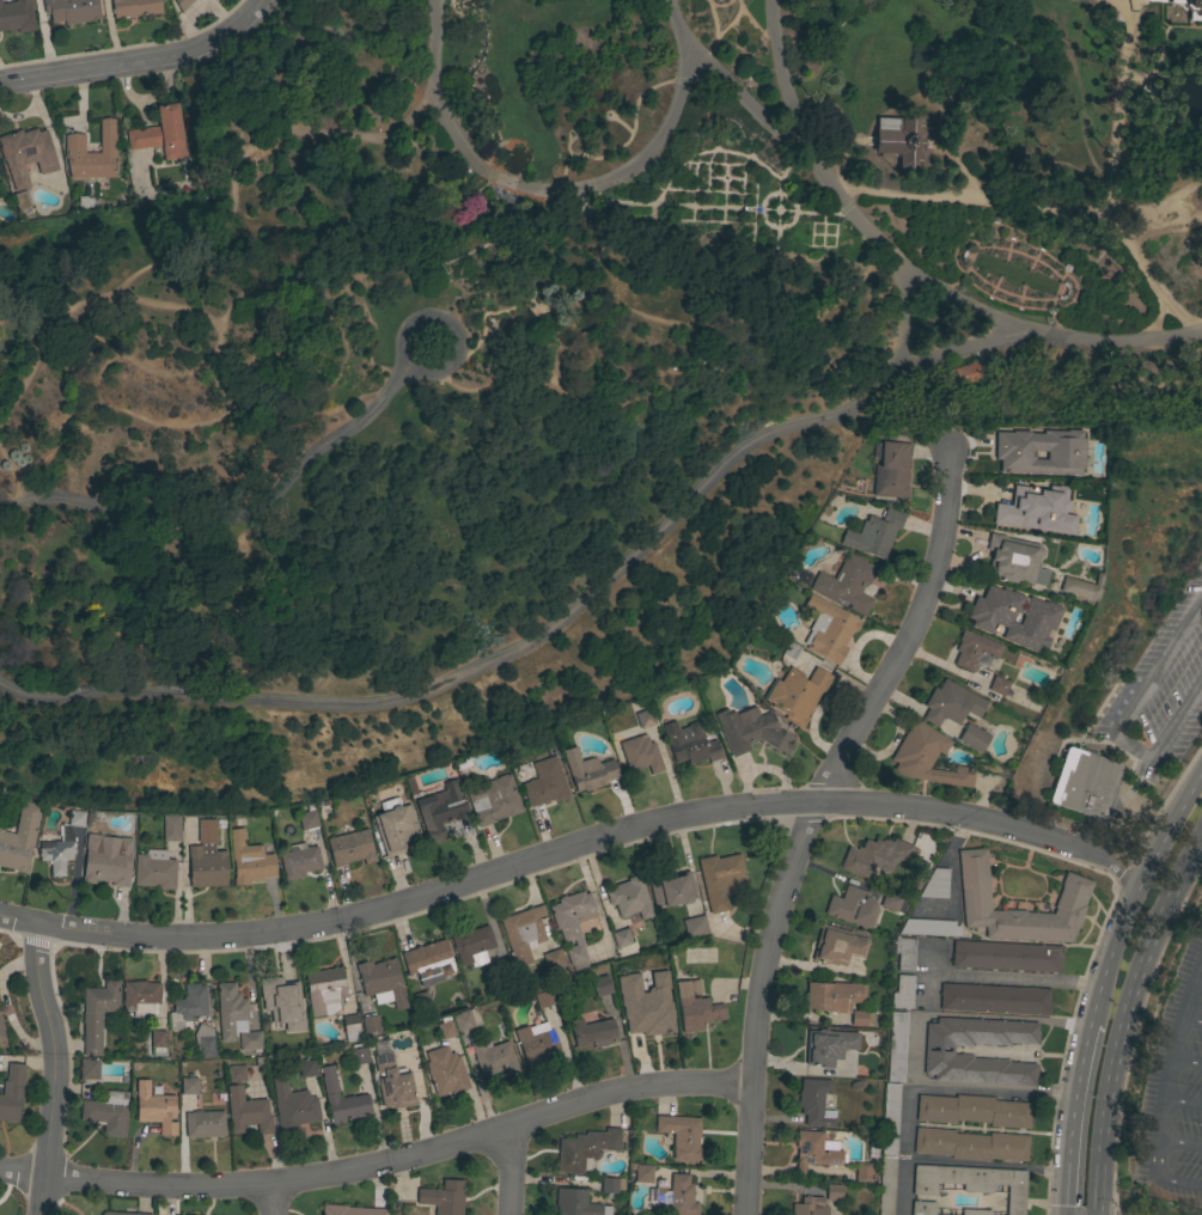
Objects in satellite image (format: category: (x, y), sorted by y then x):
road: (718, 2)
building: (182, 4)
building: (134, 7)
building: (1190, 8)
building: (71, 11)
building: (17, 16)
road: (712, 19)
road: (752, 24)
road: (720, 31)
road: (972, 50)
road: (140, 62)
road: (722, 78)
road: (438, 96)
road: (871, 97)
road: (605, 112)
road: (623, 122)
road: (631, 126)
building: (160, 134)
building: (903, 136)
road: (507, 138)
road: (499, 142)
road: (483, 151)
building: (92, 153)
building: (26, 154)
road: (724, 154)
road: (721, 160)
road: (794, 163)
road: (725, 166)
road: (767, 166)
road: (633, 167)
road: (695, 173)
road: (707, 173)
road: (714, 175)
road: (736, 175)
road: (743, 175)
road: (726, 177)
road: (1104, 177)
road: (502, 179)
road: (748, 189)
road: (487, 190)
building: (20, 201)
road: (970, 202)
road: (725, 203)
road: (721, 204)
road: (451, 207)
road: (761, 208)
road: (692, 212)
road: (822, 218)
road: (678, 220)
road: (834, 225)
fountain: (495, 227)
road: (822, 236)
road: (822, 236)
road: (993, 244)
road: (789, 245)
road: (810, 245)
road: (464, 254)
road: (524, 258)
road: (908, 267)
road: (962, 282)
road: (441, 298)
road: (621, 311)
road: (909, 319)
road: (37, 325)
road: (407, 325)
road: (90, 331)
road: (216, 331)
park: (545, 355)
road: (135, 358)
road: (679, 366)
building: (960, 376)
road: (112, 407)
building: (897, 435)
building: (1021, 444)
building: (889, 469)
building: (1019, 508)
road: (228, 509)
building: (873, 533)
building: (1015, 560)
building: (847, 584)
building: (1082, 587)
building: (1005, 613)
road: (550, 629)
building: (828, 629)
building: (1036, 646)
building: (791, 651)
building: (975, 651)
building: (997, 685)
park: (1161, 691)
building: (795, 694)
parking lot: (1160, 694)
building: (951, 703)
building: (645, 718)
road: (1119, 725)
building: (751, 732)
building: (974, 738)
building: (689, 743)
building: (640, 753)
building: (926, 757)
building: (587, 770)
building: (544, 783)
building: (1087, 784)
building: (494, 801)
building: (440, 810)
building: (307, 819)
road: (806, 819)
building: (171, 828)
building: (396, 829)
building: (19, 838)
building: (62, 843)
building: (350, 848)
road: (551, 851)
building: (875, 856)
building: (206, 859)
building: (249, 860)
building: (299, 860)
building: (106, 861)
building: (154, 869)
road: (1117, 871)
building: (721, 880)
building: (935, 884)
building: (671, 889)
road: (1129, 891)
building: (1073, 895)
building: (629, 898)
building: (893, 902)
building: (852, 906)
building: (572, 924)
building: (694, 926)
building: (928, 927)
building: (523, 933)
building: (621, 938)
building: (472, 945)
building: (836, 946)
building: (904, 953)
building: (1006, 955)
building: (553, 960)
building: (428, 961)
building: (499, 970)
road: (921, 973)
road: (1198, 978)
building: (382, 982)
building: (600, 985)
building: (324, 990)
building: (902, 991)
building: (663, 993)
building: (276, 994)
building: (542, 996)
building: (832, 996)
building: (141, 997)
building: (994, 999)
building: (421, 1000)
building: (695, 1006)
building: (188, 1007)
building: (97, 1014)
road: (1121, 1014)
road: (1003, 1016)
building: (234, 1018)
building: (861, 1018)
road: (1190, 1018)
building: (465, 1020)
building: (643, 1020)
building: (371, 1024)
building: (350, 1027)
building: (445, 1027)
building: (593, 1032)
building: (2, 1033)
building: (299, 1036)
road: (1133, 1037)
building: (158, 1040)
building: (203, 1042)
building: (537, 1045)
building: (829, 1046)
building: (896, 1046)
road: (1173, 1049)
building: (938, 1052)
building: (358, 1054)
building: (494, 1058)
road: (1186, 1061)
building: (306, 1068)
road: (53, 1069)
building: (89, 1069)
building: (445, 1071)
building: (237, 1074)
building: (391, 1079)
building: (189, 1086)
parking lot: (1176, 1089)
building: (11, 1093)
road: (992, 1093)
building: (341, 1099)
road: (1183, 1101)
building: (814, 1103)
building: (292, 1105)
building: (154, 1107)
building: (972, 1110)
building: (246, 1111)
building: (106, 1112)
road: (1069, 1117)
building: (205, 1124)
building: (681, 1135)
building: (970, 1144)
road: (1179, 1144)
building: (585, 1148)
building: (889, 1149)
building: (814, 1150)
road: (905, 1153)
road: (1154, 1160)
road: (378, 1162)
road: (984, 1164)
road: (507, 1171)
building: (864, 1172)
building: (640, 1173)
building: (971, 1182)
road: (1177, 1184)
building: (611, 1185)
road: (902, 1185)
building: (834, 1192)
building: (677, 1196)
building: (444, 1197)
road: (269, 1199)
building: (576, 1203)
building: (809, 1207)
building: (922, 1208)
building: (349, 1210)
building: (975, 1211)
building: (122, 1213)
road: (1115, 1214)

